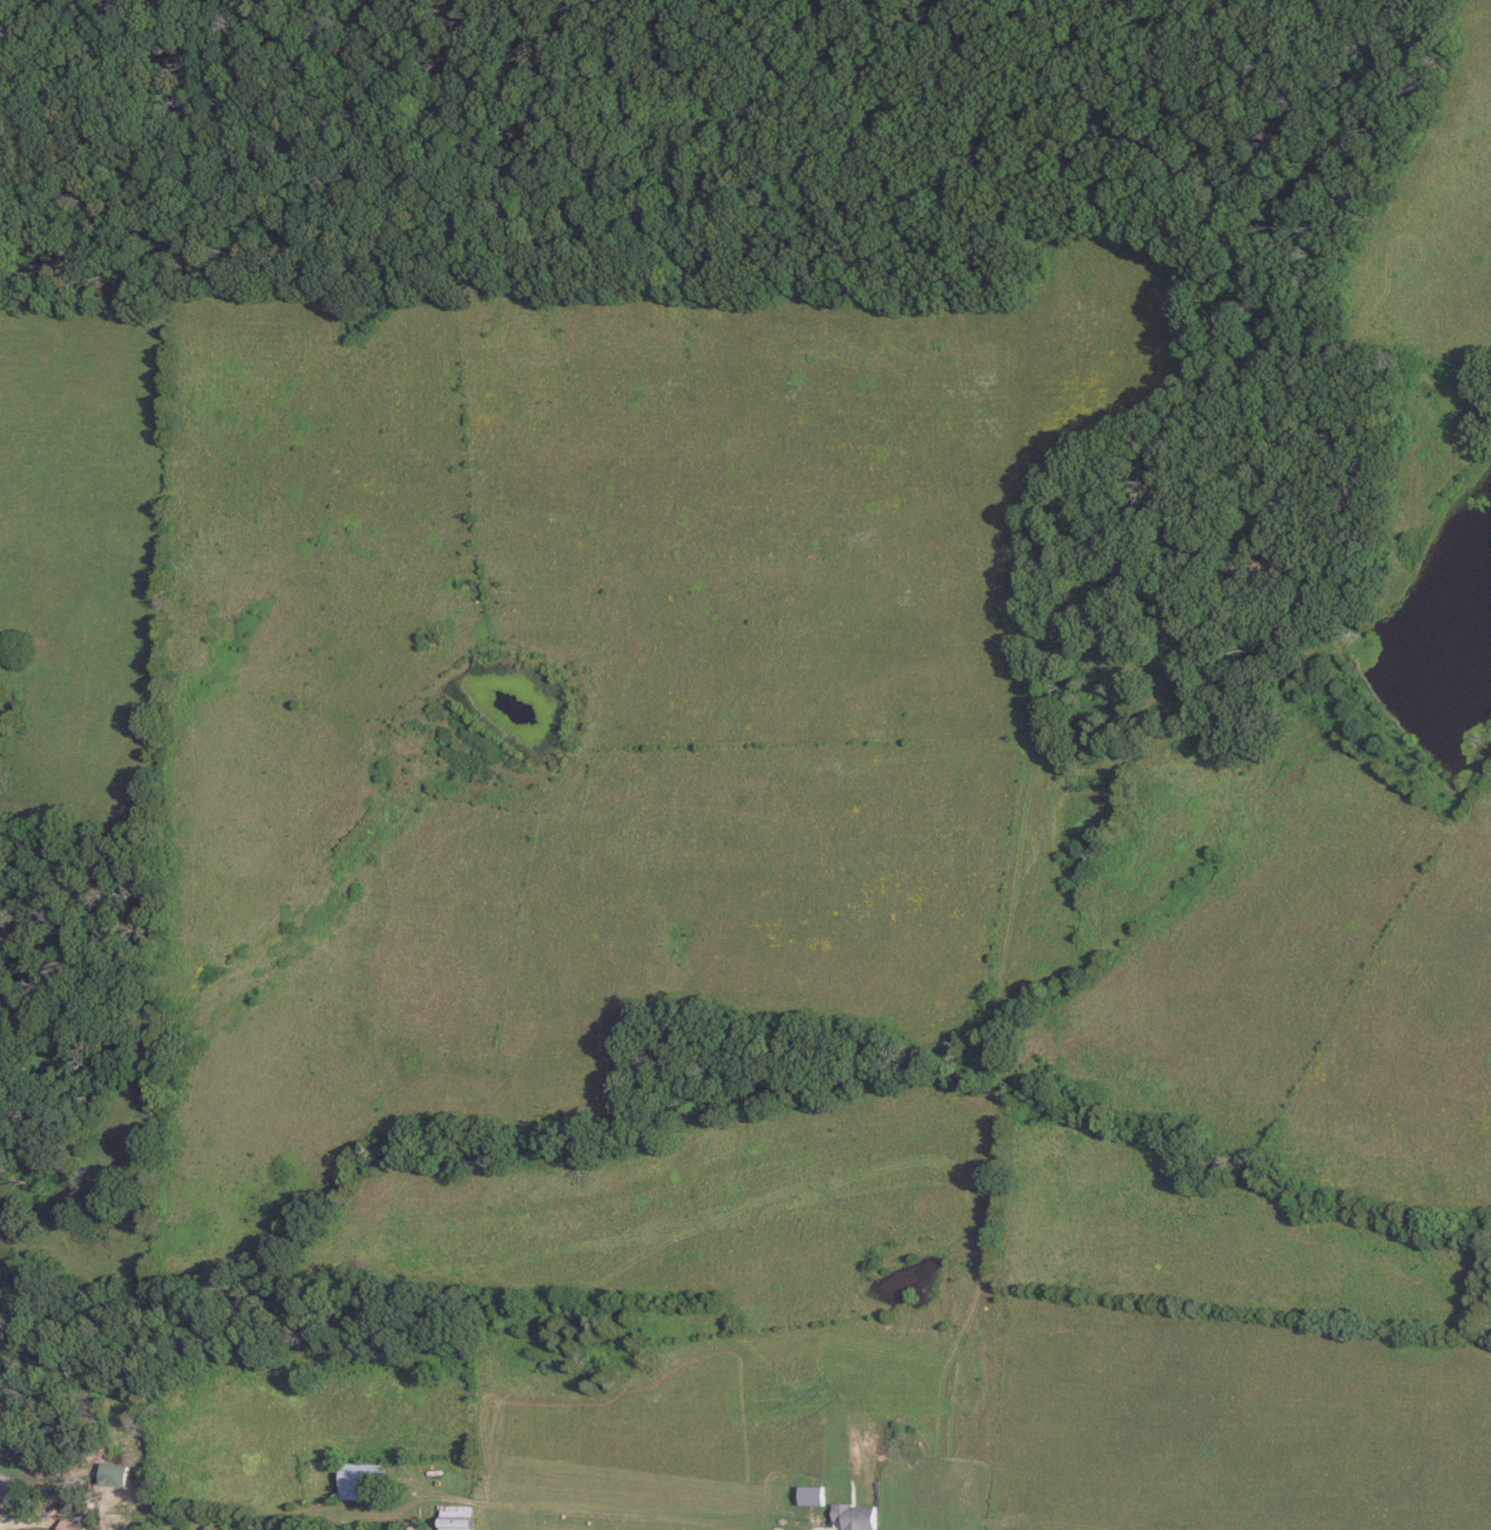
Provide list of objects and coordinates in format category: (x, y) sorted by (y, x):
building: (114, 1473)
building: (363, 1480)
building: (5, 1485)
building: (454, 1510)
building: (70, 1525)
road: (825, 1525)
building: (215, 1528)

